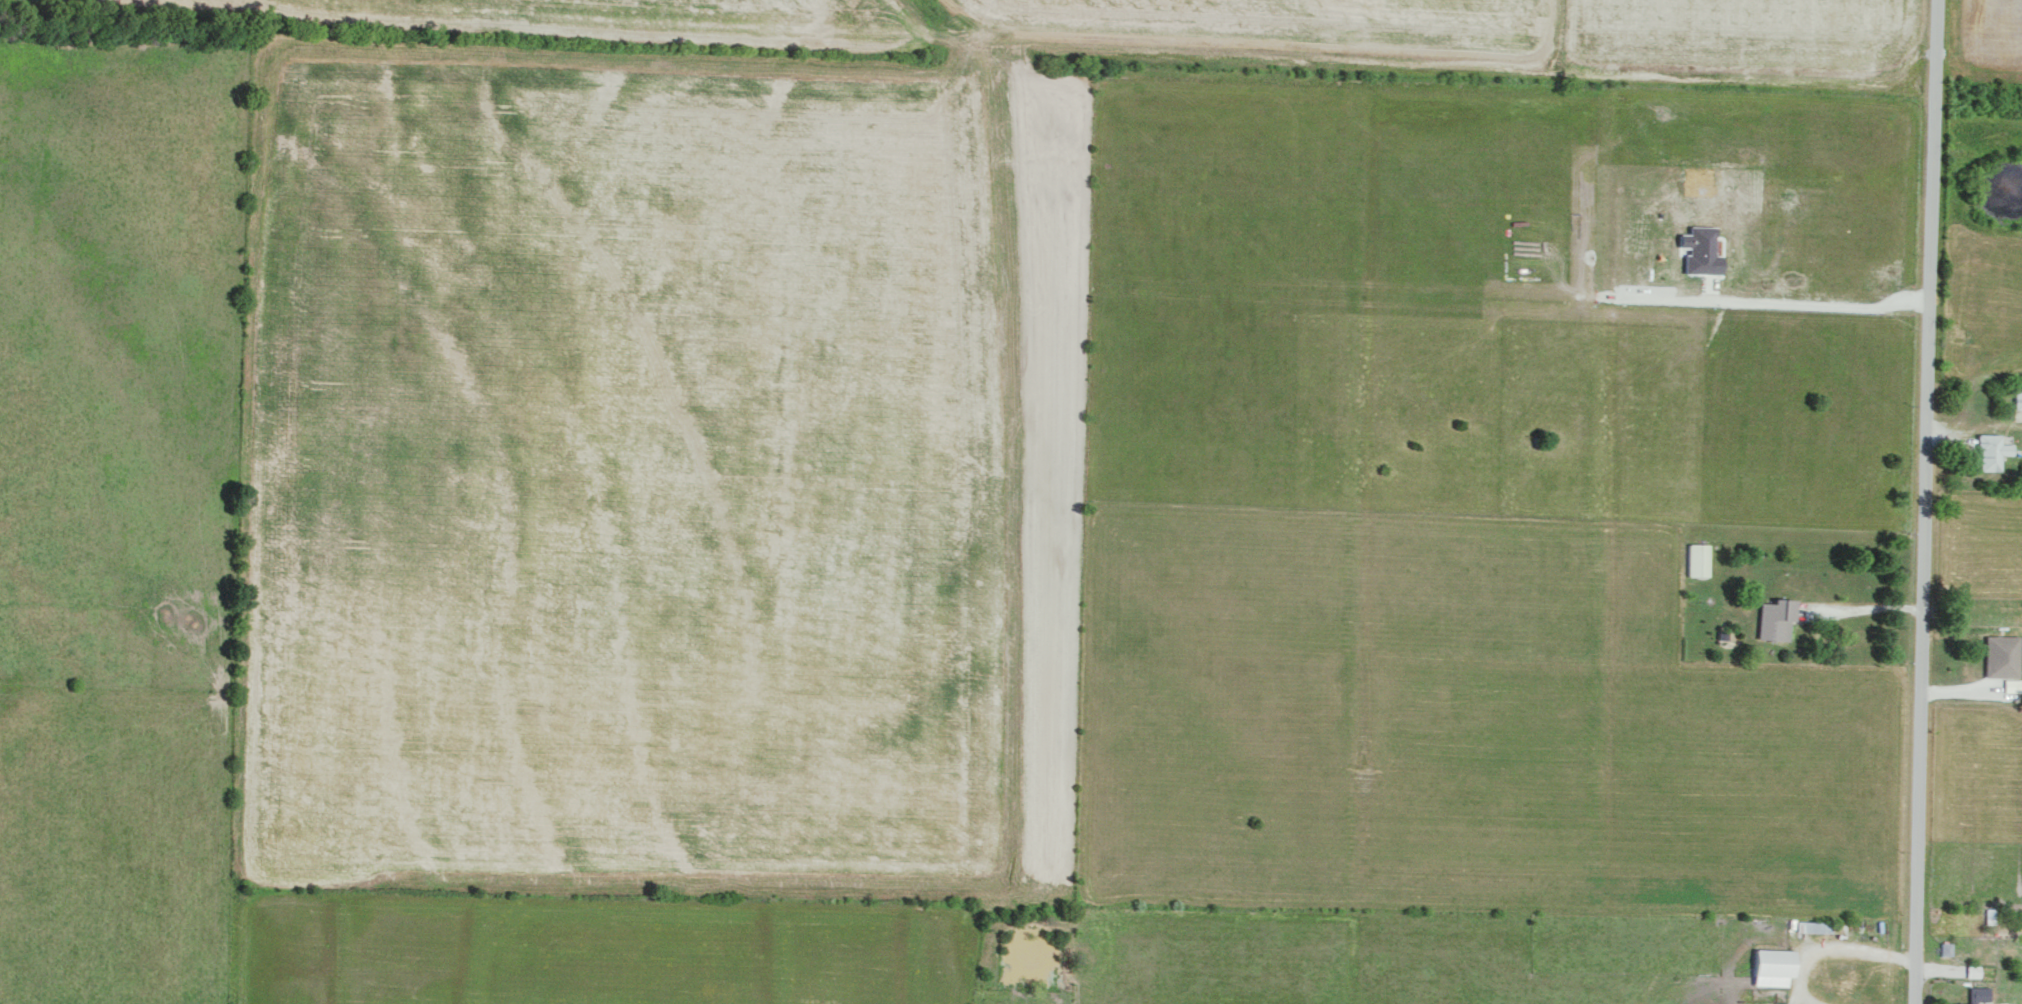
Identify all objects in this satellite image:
building: (1700, 250)
road: (1765, 304)
building: (2018, 394)
building: (1991, 450)
road: (1923, 502)
building: (1697, 558)
road: (1858, 609)
building: (1774, 618)
building: (2001, 655)
building: (2012, 684)
building: (1945, 947)
building: (1771, 965)
building: (1972, 970)
building: (1975, 994)

